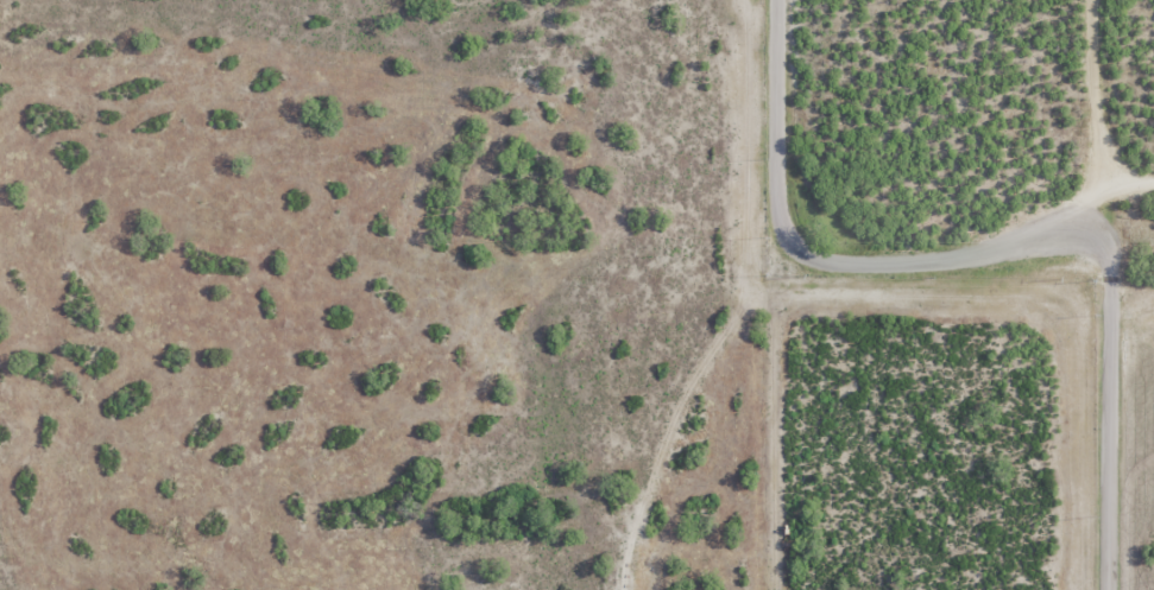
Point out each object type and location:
road: (991, 256)

